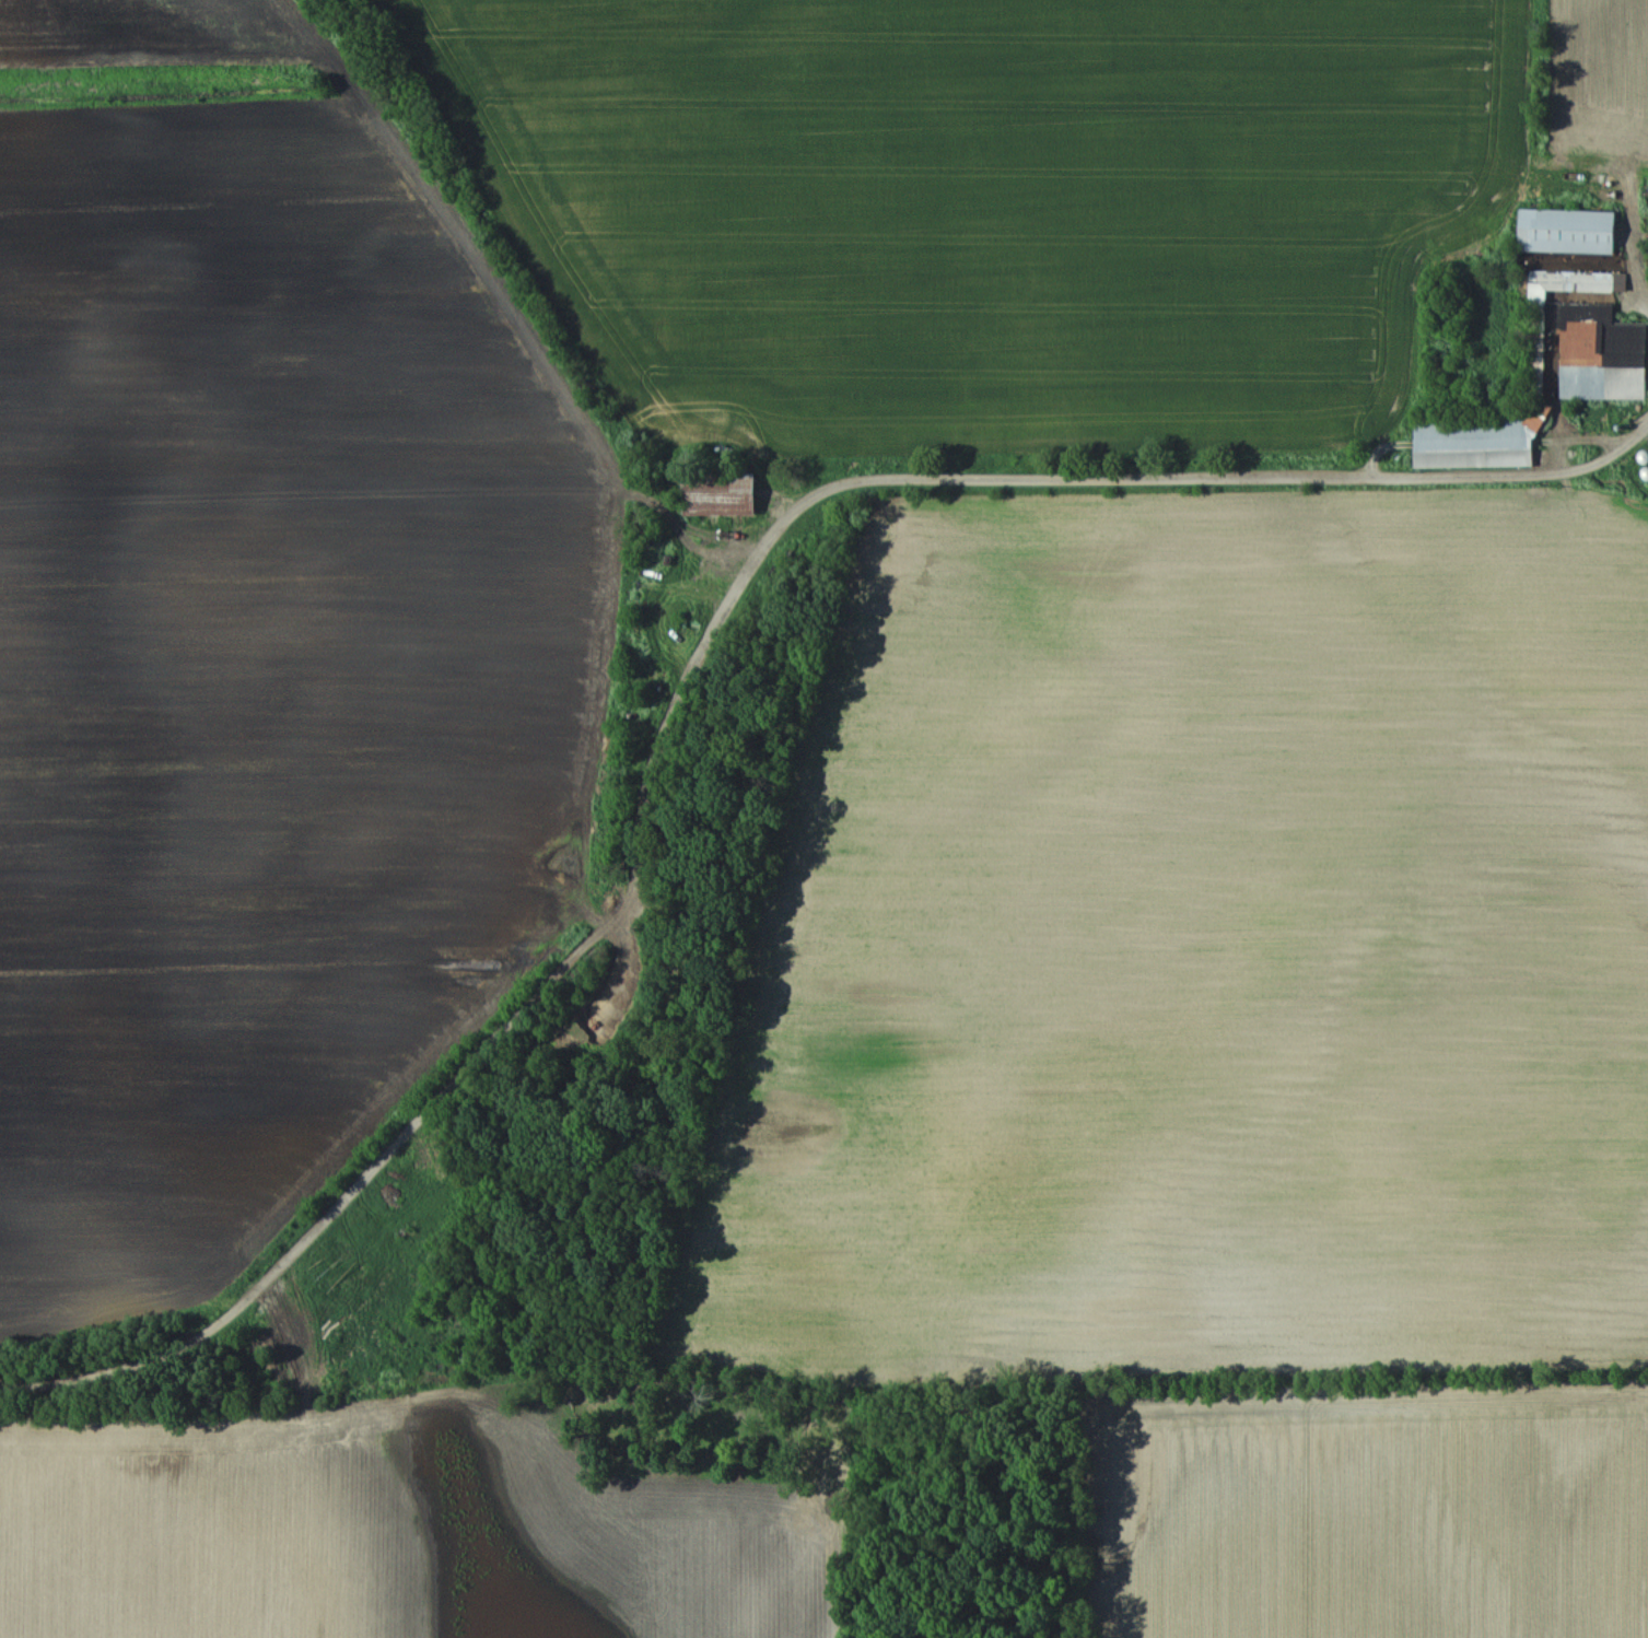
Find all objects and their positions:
building: (1568, 231)
building: (1535, 375)
road: (1570, 473)
building: (723, 492)
road: (644, 693)

